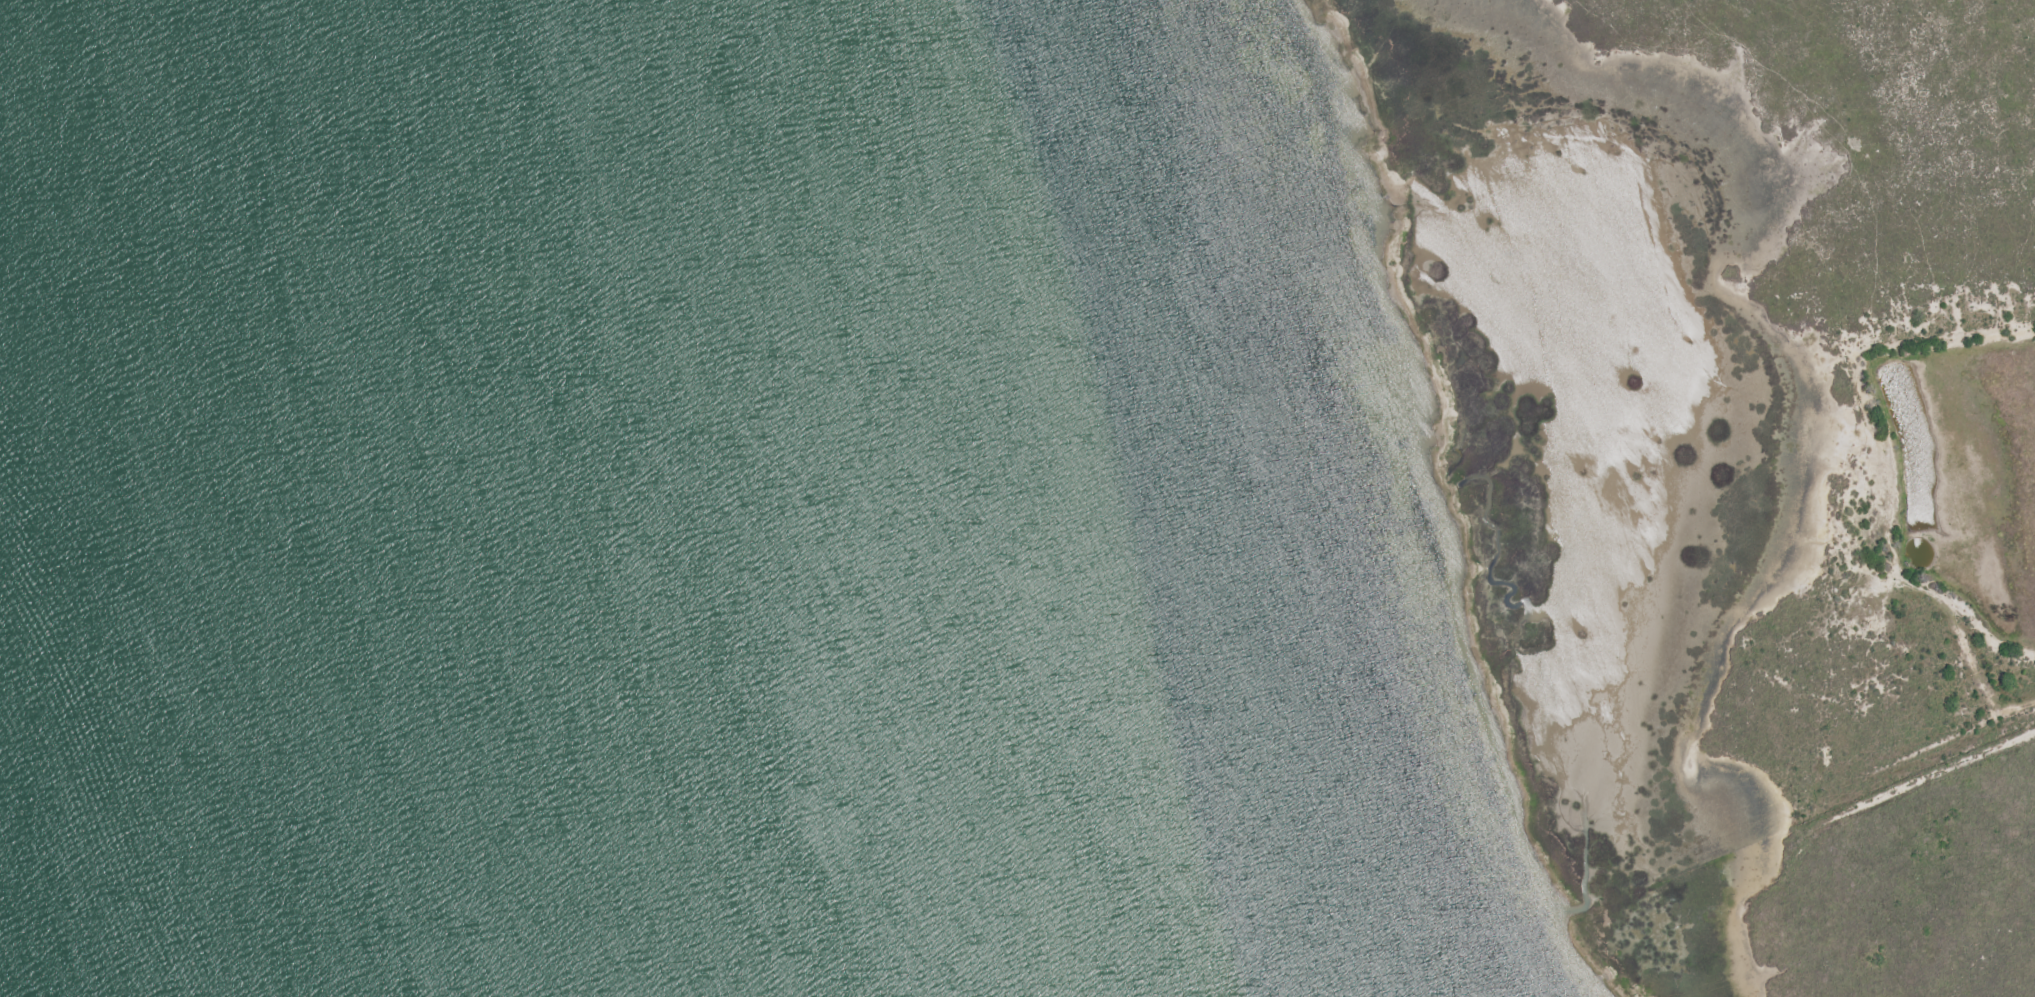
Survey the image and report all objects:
road: (2014, 708)

